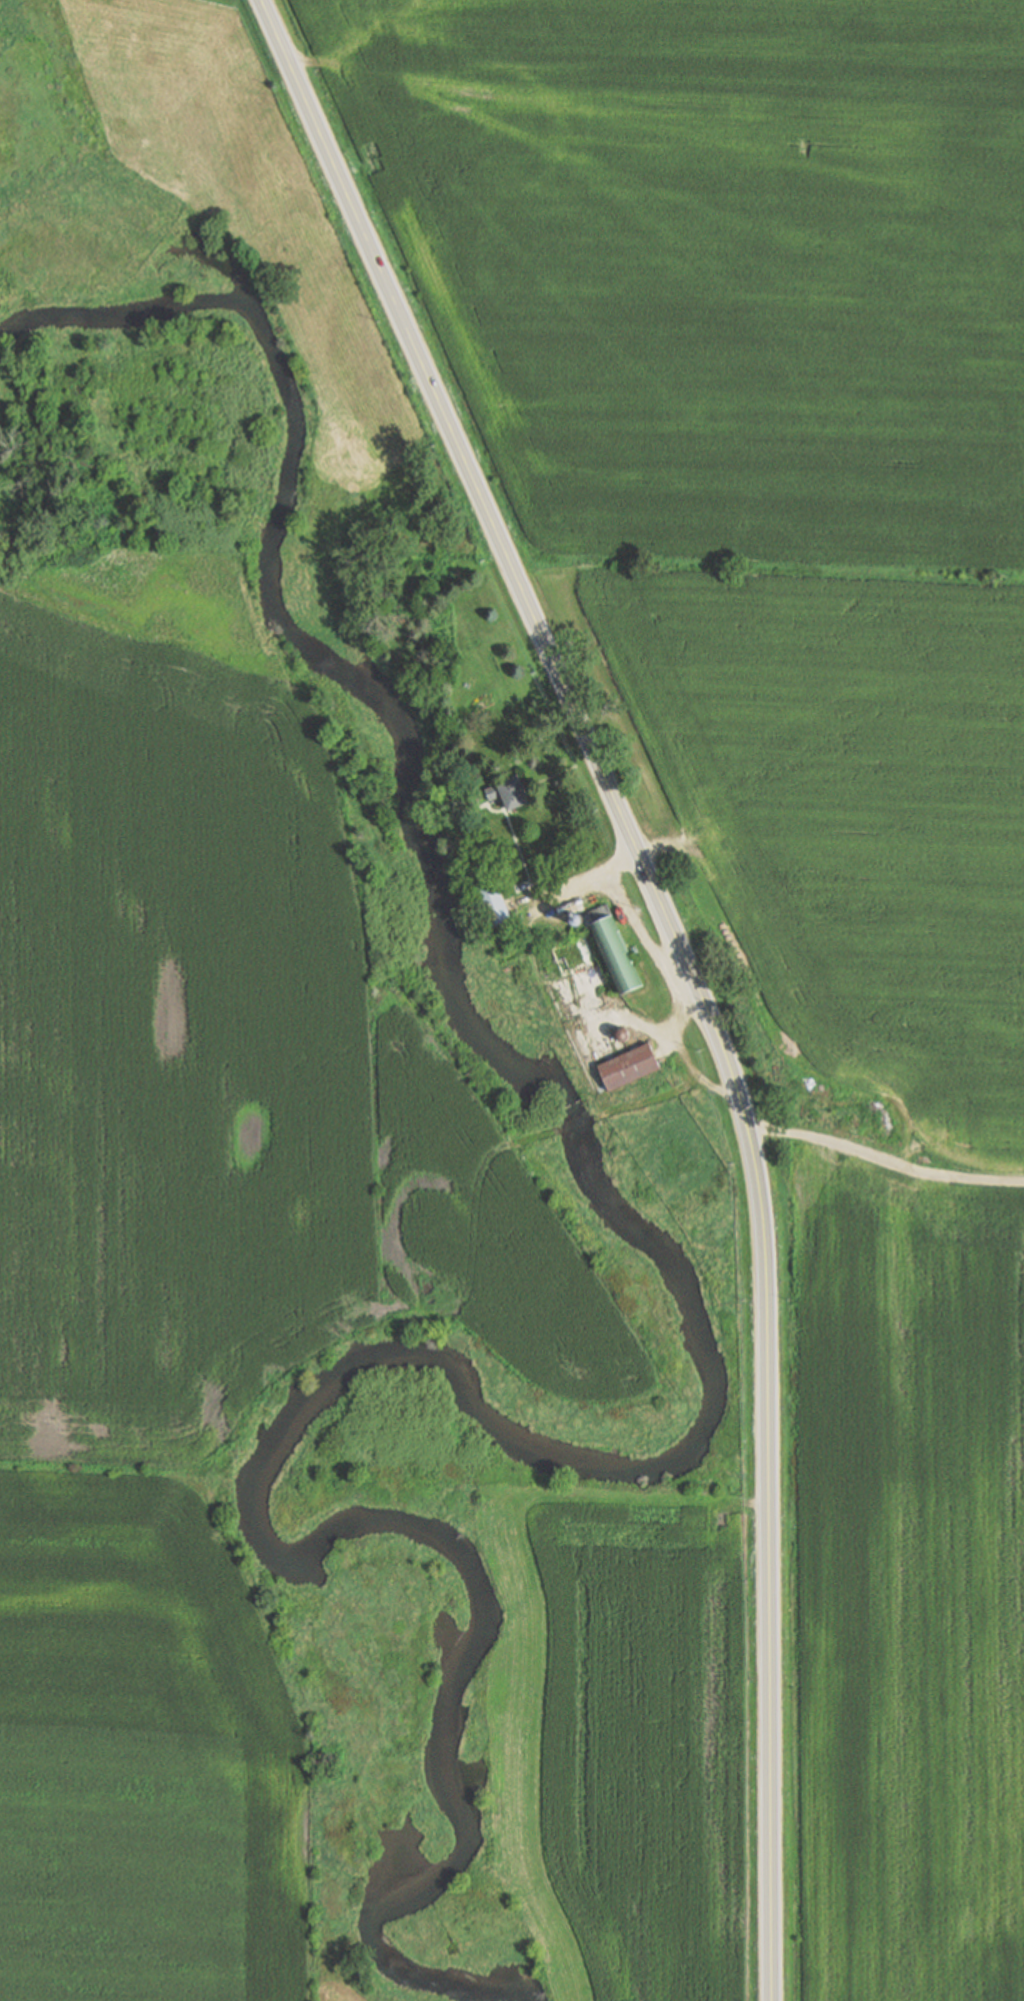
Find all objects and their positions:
crop: (720, 259)
road: (520, 579)
building: (510, 792)
crop: (852, 800)
road: (589, 876)
building: (500, 920)
road: (637, 926)
building: (613, 947)
building: (569, 954)
road: (810, 994)
crop: (170, 1015)
building: (629, 1066)
road: (908, 1173)
crop: (483, 1228)
river: (713, 1426)
crop: (912, 1593)
crop: (143, 1756)

